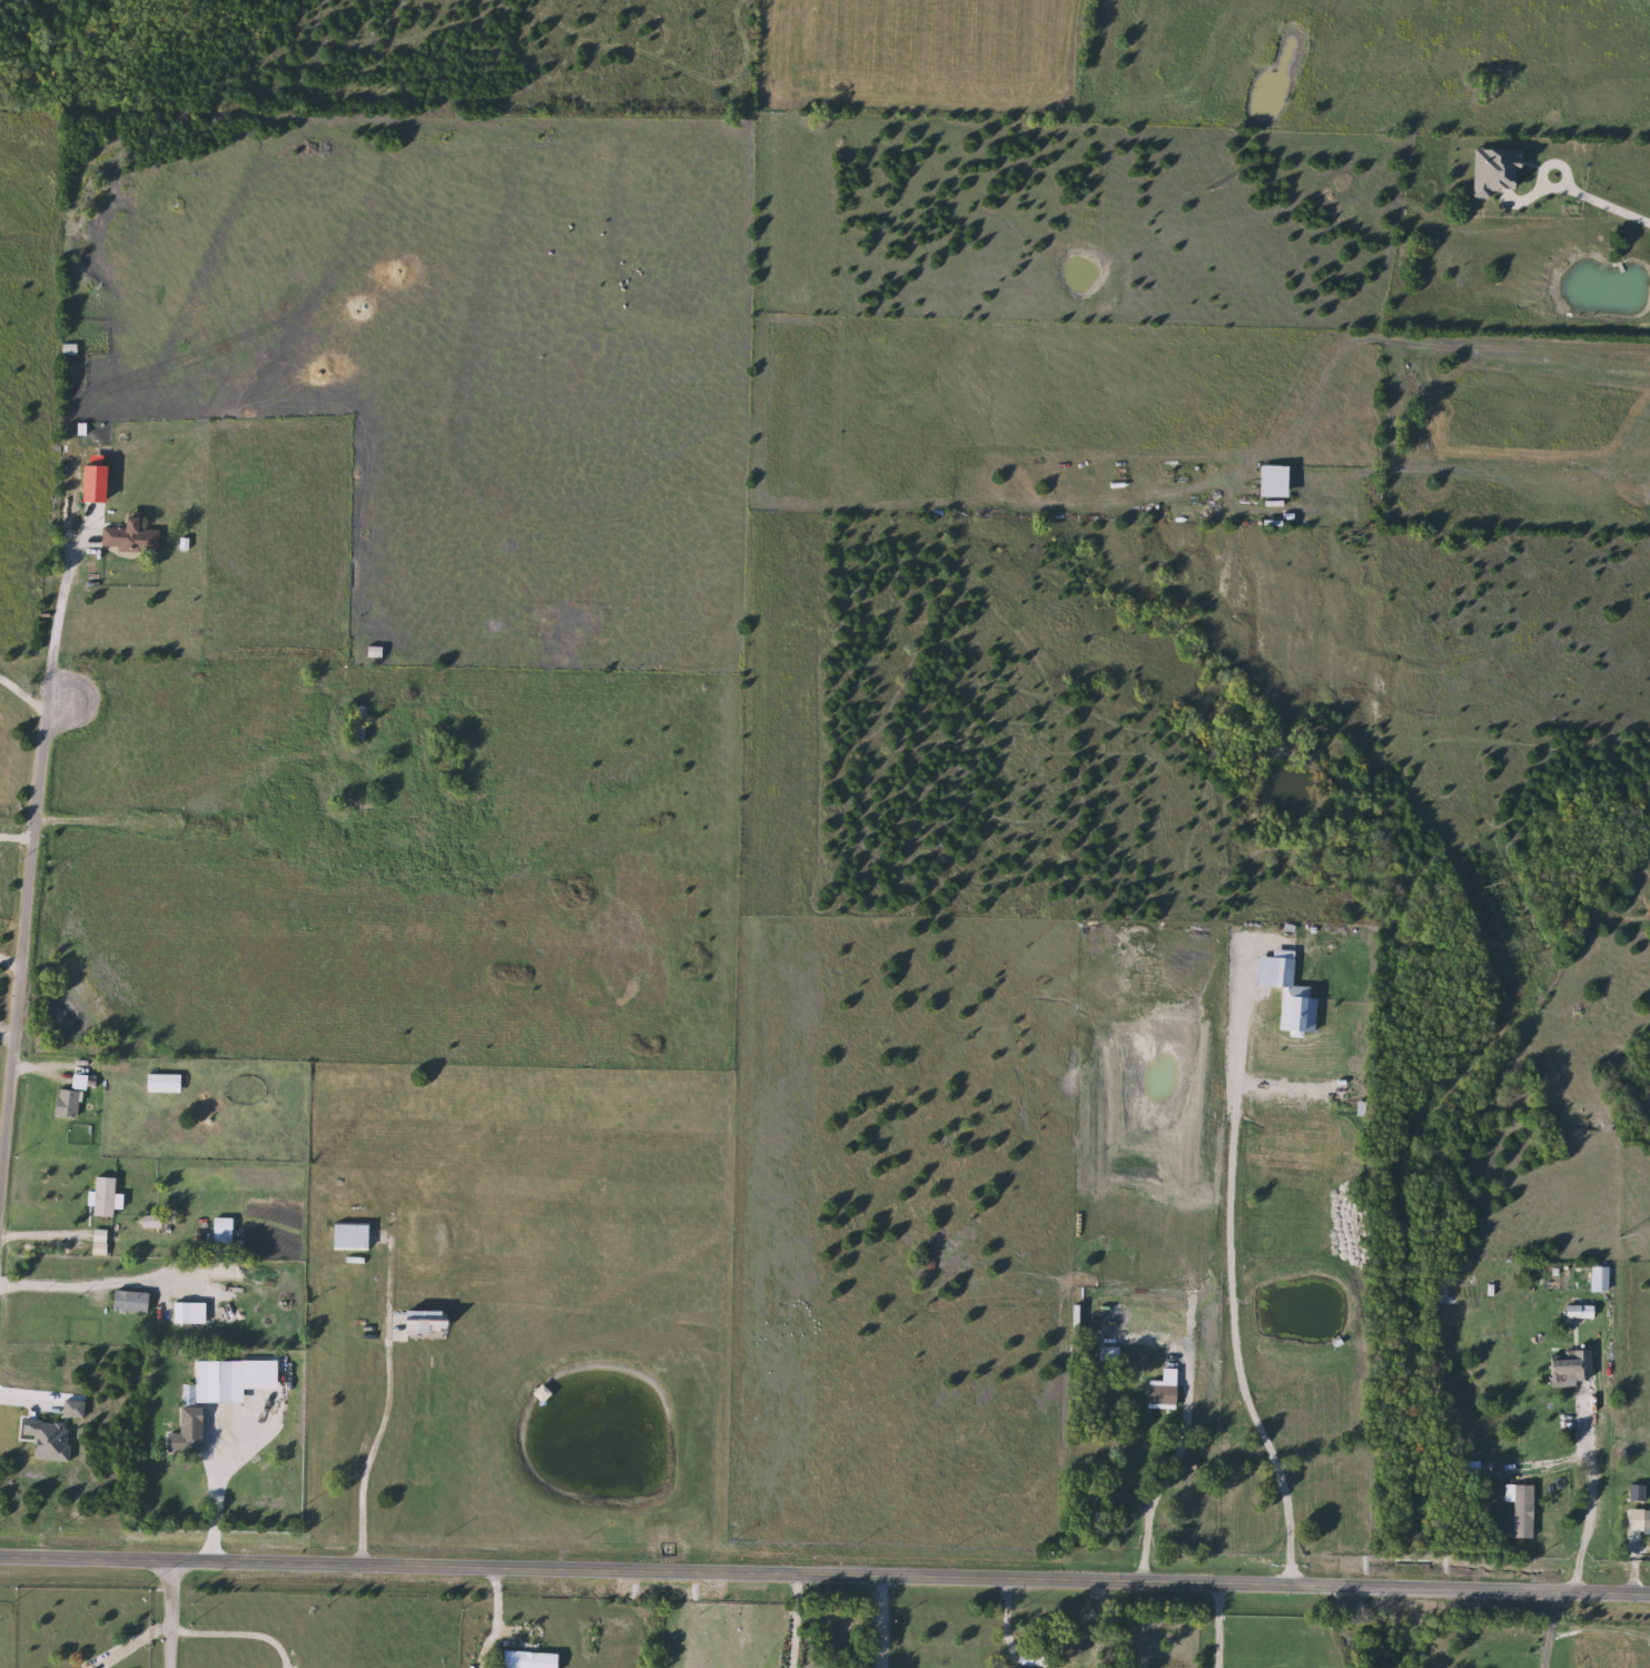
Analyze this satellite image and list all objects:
road: (1550, 159)
road: (1614, 195)
road: (1441, 345)
building: (1268, 481)
building: (132, 537)
road: (22, 692)
building: (286, 817)
road: (30, 850)
road: (11, 914)
road: (10, 959)
building: (1271, 973)
building: (1293, 1015)
road: (6, 1030)
building: (85, 1079)
building: (167, 1084)
building: (71, 1104)
building: (109, 1197)
building: (226, 1231)
road: (47, 1235)
building: (354, 1236)
road: (107, 1275)
building: (1597, 1279)
road: (1231, 1300)
building: (134, 1302)
building: (194, 1314)
building: (1563, 1368)
building: (190, 1395)
road: (386, 1411)
building: (258, 1442)
building: (1123, 1443)
building: (189, 1444)
road: (1170, 1471)
road: (215, 1492)
road: (1590, 1497)
building: (1643, 1520)
road: (824, 1575)
road: (168, 1612)
road: (794, 1621)
road: (882, 1622)
road: (1551, 1630)
road: (237, 1634)
building: (525, 1660)

